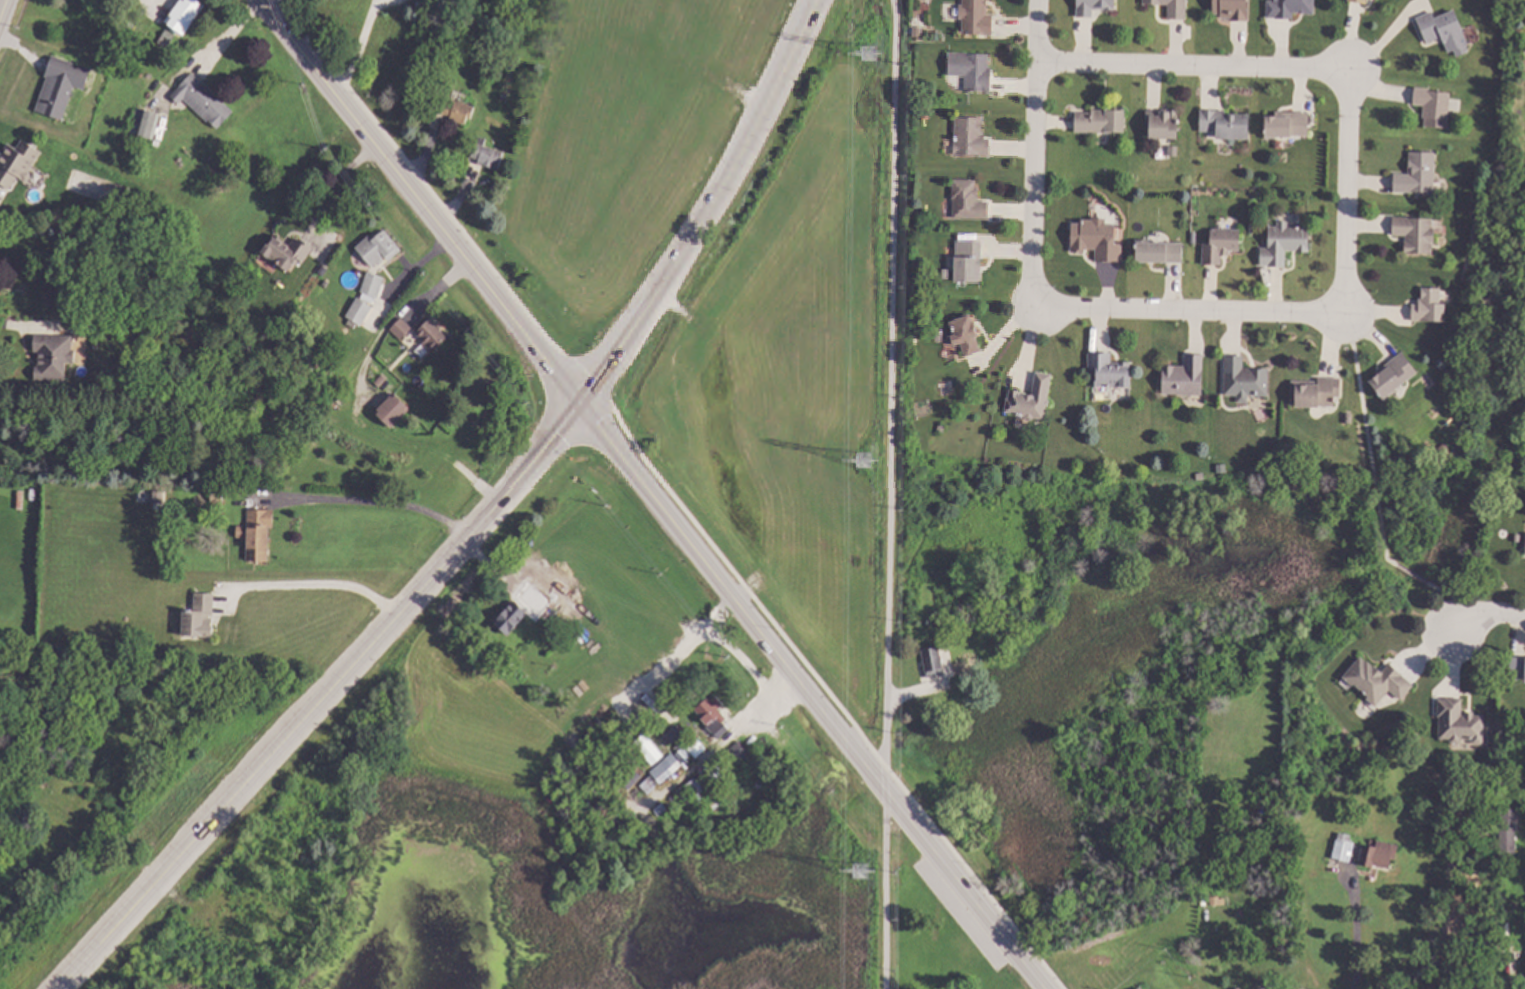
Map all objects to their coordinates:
building: (1359, 1)
road: (1, 4)
building: (1094, 6)
building: (1172, 8)
building: (1289, 8)
building: (1230, 9)
building: (186, 14)
building: (977, 18)
building: (1445, 31)
building: (919, 32)
building: (167, 39)
building: (457, 47)
road: (357, 51)
power tower: (868, 55)
road: (1190, 67)
building: (973, 71)
building: (146, 83)
building: (61, 86)
building: (201, 95)
building: (504, 97)
building: (1433, 105)
building: (456, 109)
building: (1101, 120)
building: (1162, 123)
building: (148, 124)
building: (1225, 124)
building: (1287, 124)
building: (972, 138)
building: (1173, 150)
road: (1034, 153)
building: (487, 154)
building: (17, 162)
building: (1417, 174)
road: (333, 185)
road: (1346, 192)
building: (969, 201)
road: (416, 202)
road: (707, 208)
building: (1415, 233)
building: (1097, 239)
building: (1284, 242)
building: (1221, 245)
building: (377, 248)
building: (288, 251)
building: (1160, 251)
building: (968, 262)
building: (323, 270)
building: (946, 274)
building: (327, 282)
building: (372, 287)
building: (0, 288)
road: (426, 298)
building: (1429, 306)
road: (1187, 311)
building: (355, 312)
building: (402, 328)
road: (19, 329)
building: (432, 334)
building: (965, 336)
building: (940, 337)
building: (1461, 348)
building: (54, 356)
building: (1110, 371)
building: (1394, 375)
building: (1184, 376)
building: (1428, 376)
building: (1245, 379)
building: (381, 380)
building: (1315, 392)
building: (1030, 398)
building: (392, 410)
building: (1349, 418)
road: (384, 436)
road: (1365, 437)
building: (1444, 447)
power tower: (864, 463)
building: (1200, 476)
road: (886, 494)
building: (154, 497)
building: (217, 497)
road: (362, 504)
building: (257, 533)
building: (1517, 537)
building: (1523, 545)
road: (1411, 574)
road: (314, 588)
road: (1450, 596)
building: (518, 610)
road: (1485, 615)
building: (200, 616)
building: (993, 624)
road: (739, 660)
building: (933, 662)
road: (661, 667)
building: (1517, 667)
building: (1378, 681)
road: (320, 698)
road: (810, 698)
building: (714, 717)
road: (752, 720)
building: (1459, 722)
building: (692, 749)
building: (644, 751)
building: (681, 752)
building: (738, 753)
building: (609, 759)
building: (656, 773)
building: (705, 780)
building: (686, 795)
building: (658, 809)
building: (616, 815)
building: (666, 825)
building: (1508, 833)
building: (1343, 850)
building: (1379, 854)
power tower: (859, 874)
parking lot: (957, 914)
road: (1354, 935)
building: (1524, 961)
road: (1506, 983)
building: (1139, 988)
building: (1236, 988)

